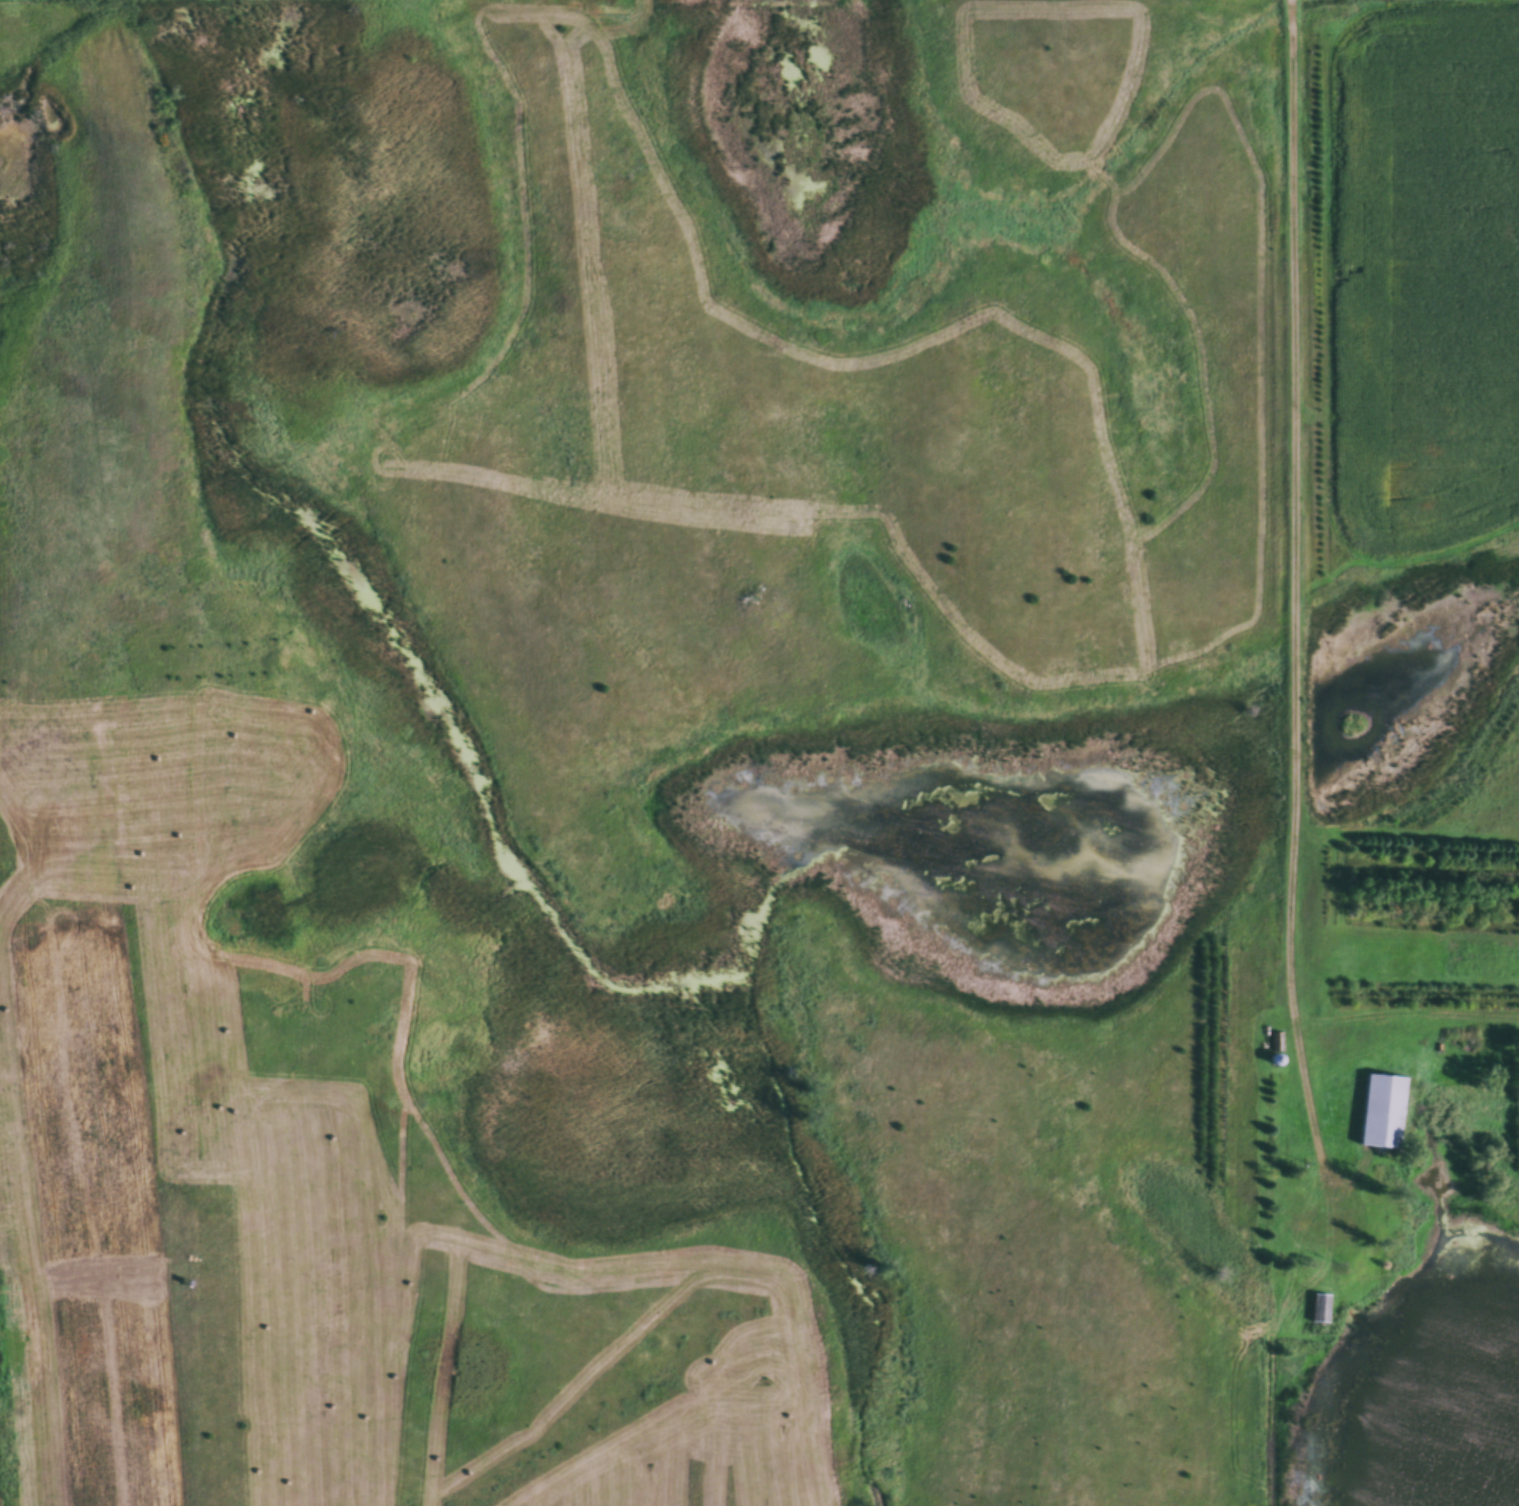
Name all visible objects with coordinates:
river: (819, 113)
river: (235, 267)
road: (1297, 602)
building: (1275, 1043)
building: (1380, 1113)
river: (676, 1114)
building: (1317, 1309)

